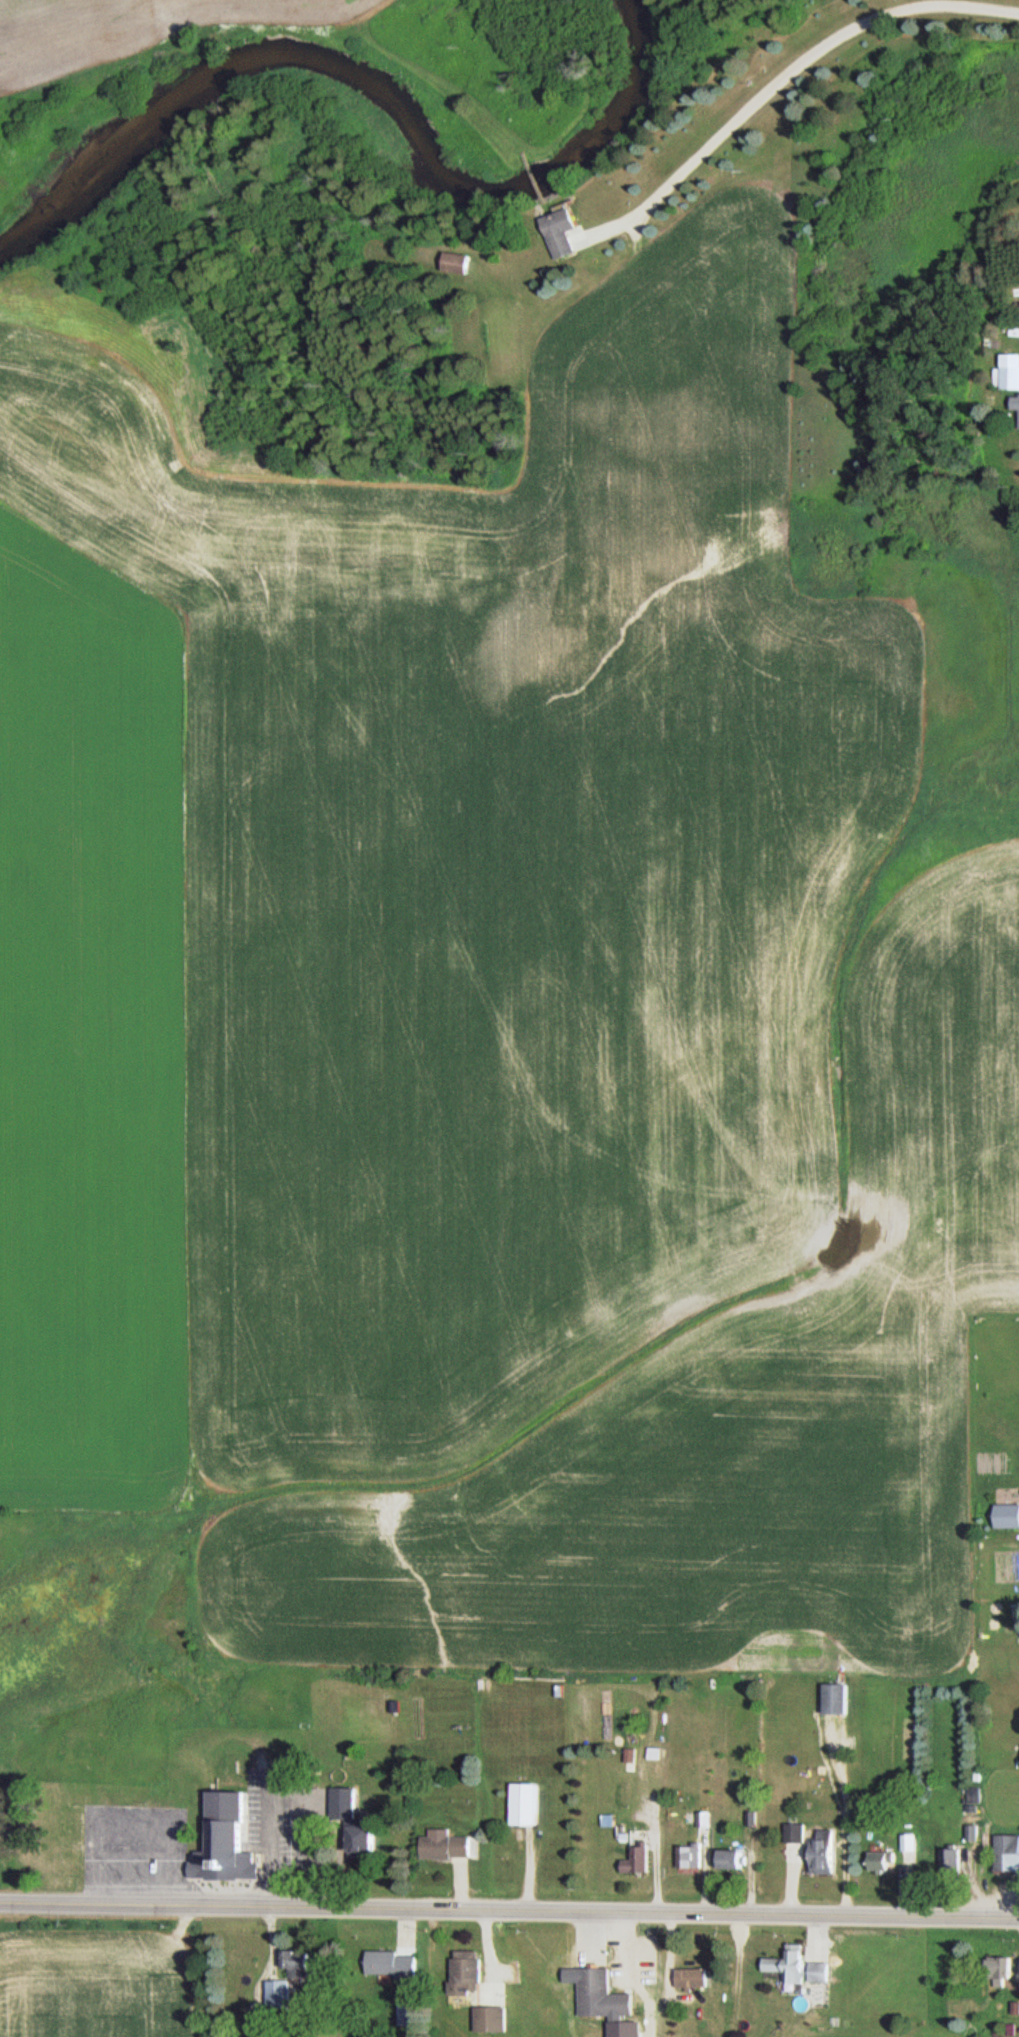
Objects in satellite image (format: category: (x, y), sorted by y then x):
road: (782, 76)
river: (371, 90)
building: (569, 230)
building: (463, 262)
building: (1010, 370)
building: (1016, 401)
building: (841, 1698)
building: (632, 1758)
road: (271, 1780)
building: (346, 1802)
building: (526, 1804)
parking lot: (279, 1813)
building: (798, 1832)
building: (225, 1840)
building: (367, 1841)
parking lot: (146, 1844)
building: (451, 1847)
building: (910, 1847)
building: (831, 1850)
building: (1009, 1854)
building: (692, 1855)
building: (642, 1860)
building: (741, 1860)
building: (884, 1861)
building: (953, 1862)
road: (509, 1909)
building: (299, 1962)
building: (394, 1963)
building: (801, 1966)
building: (1004, 1967)
building: (653, 1968)
building: (469, 1975)
building: (695, 1977)
building: (281, 1994)
building: (604, 1994)
building: (410, 2012)
building: (494, 2019)

